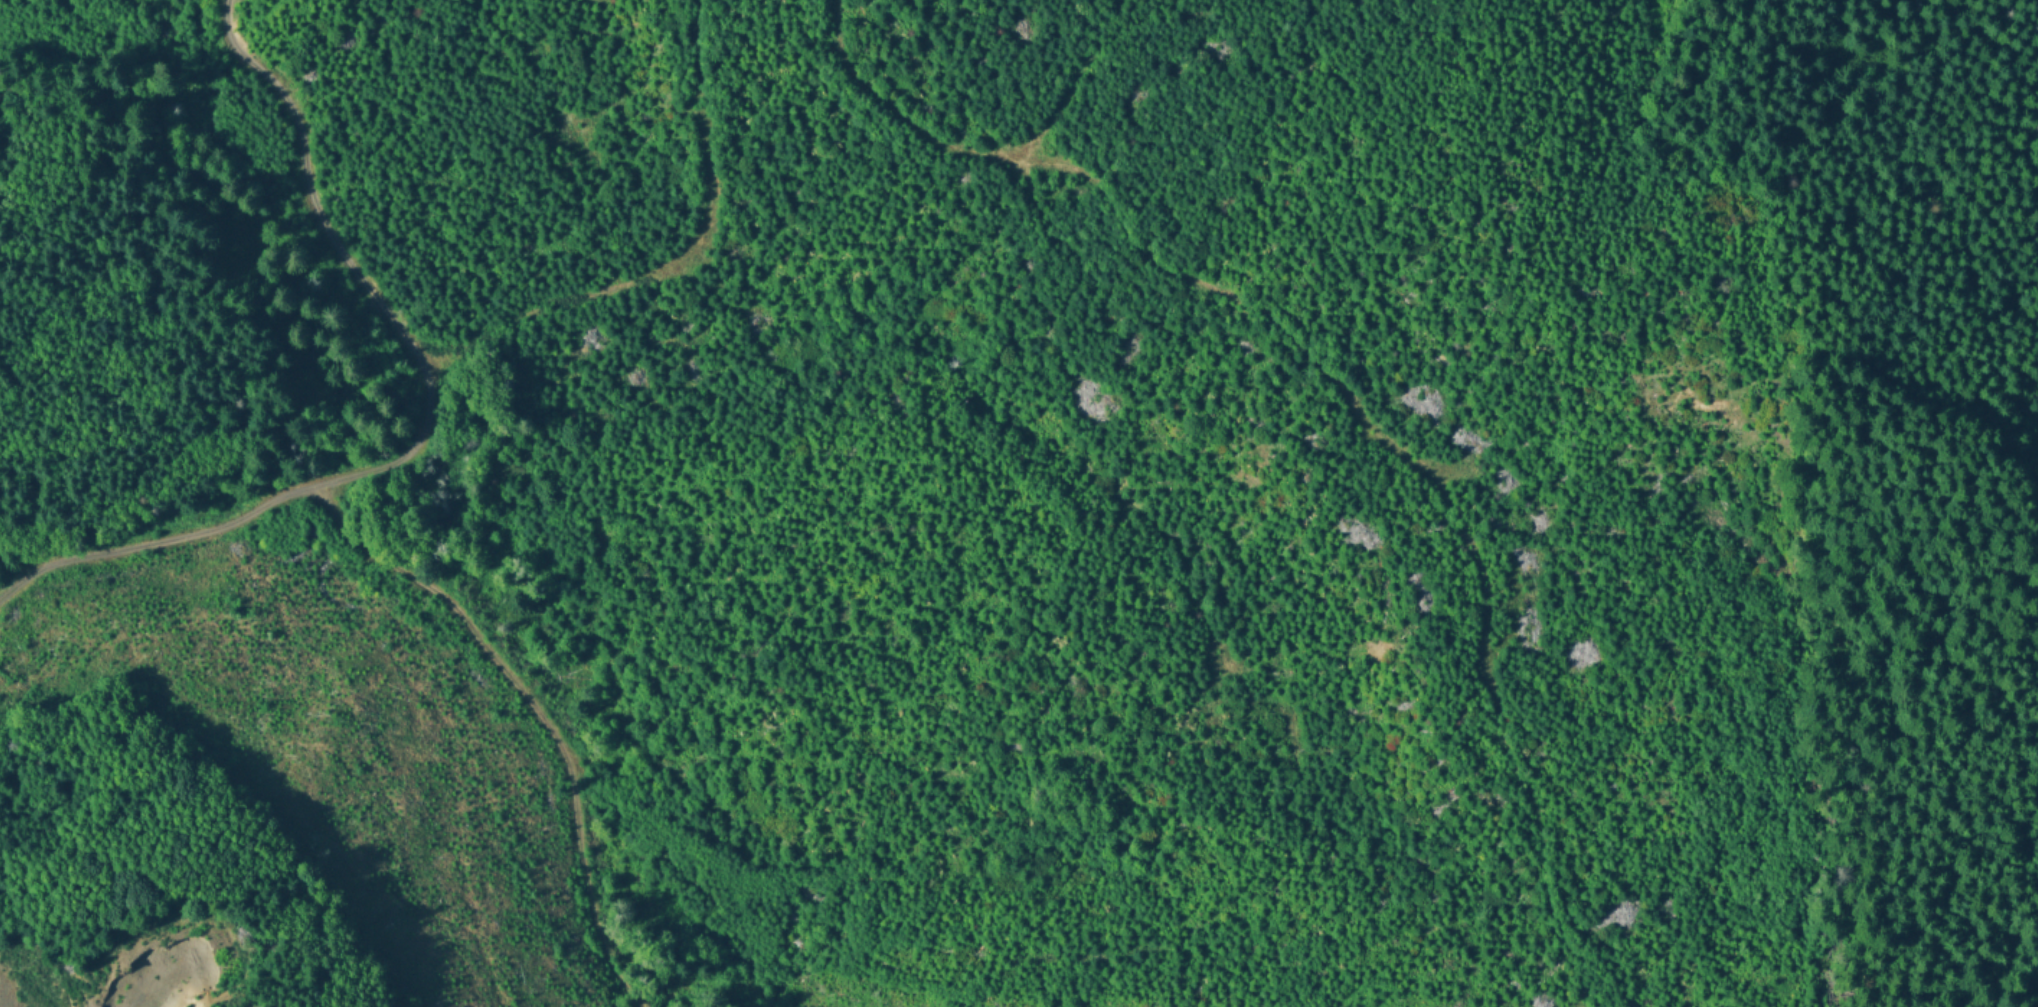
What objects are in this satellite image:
road: (390, 412)

